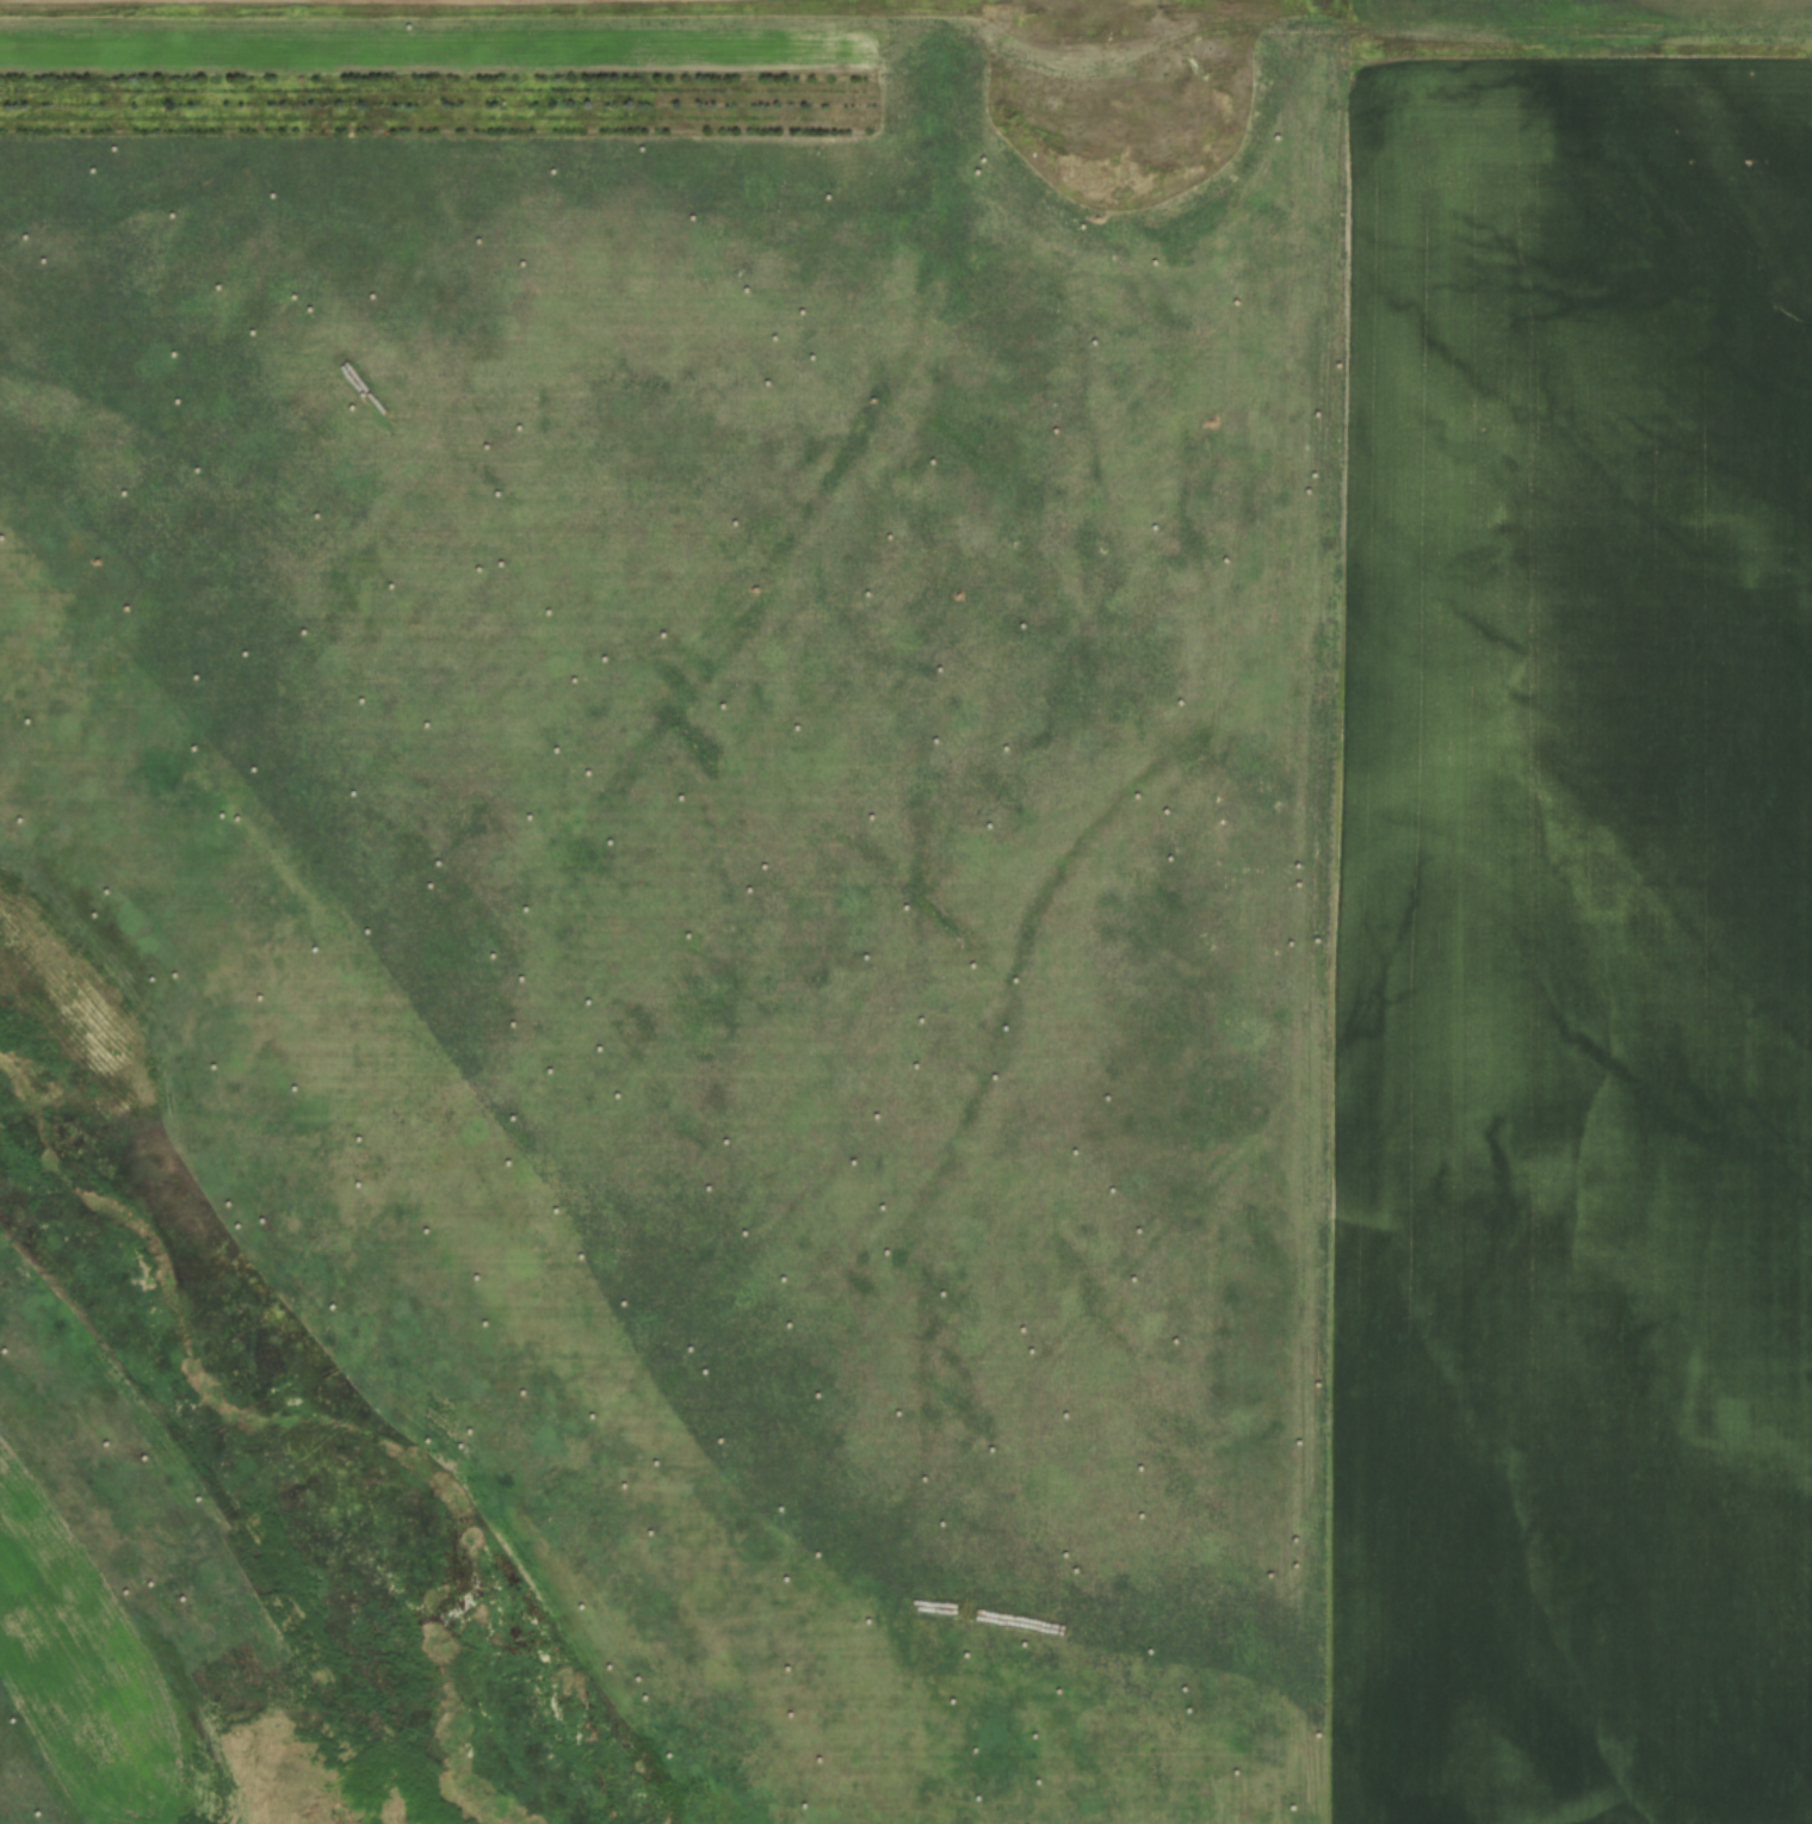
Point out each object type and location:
road: (1323, 911)

